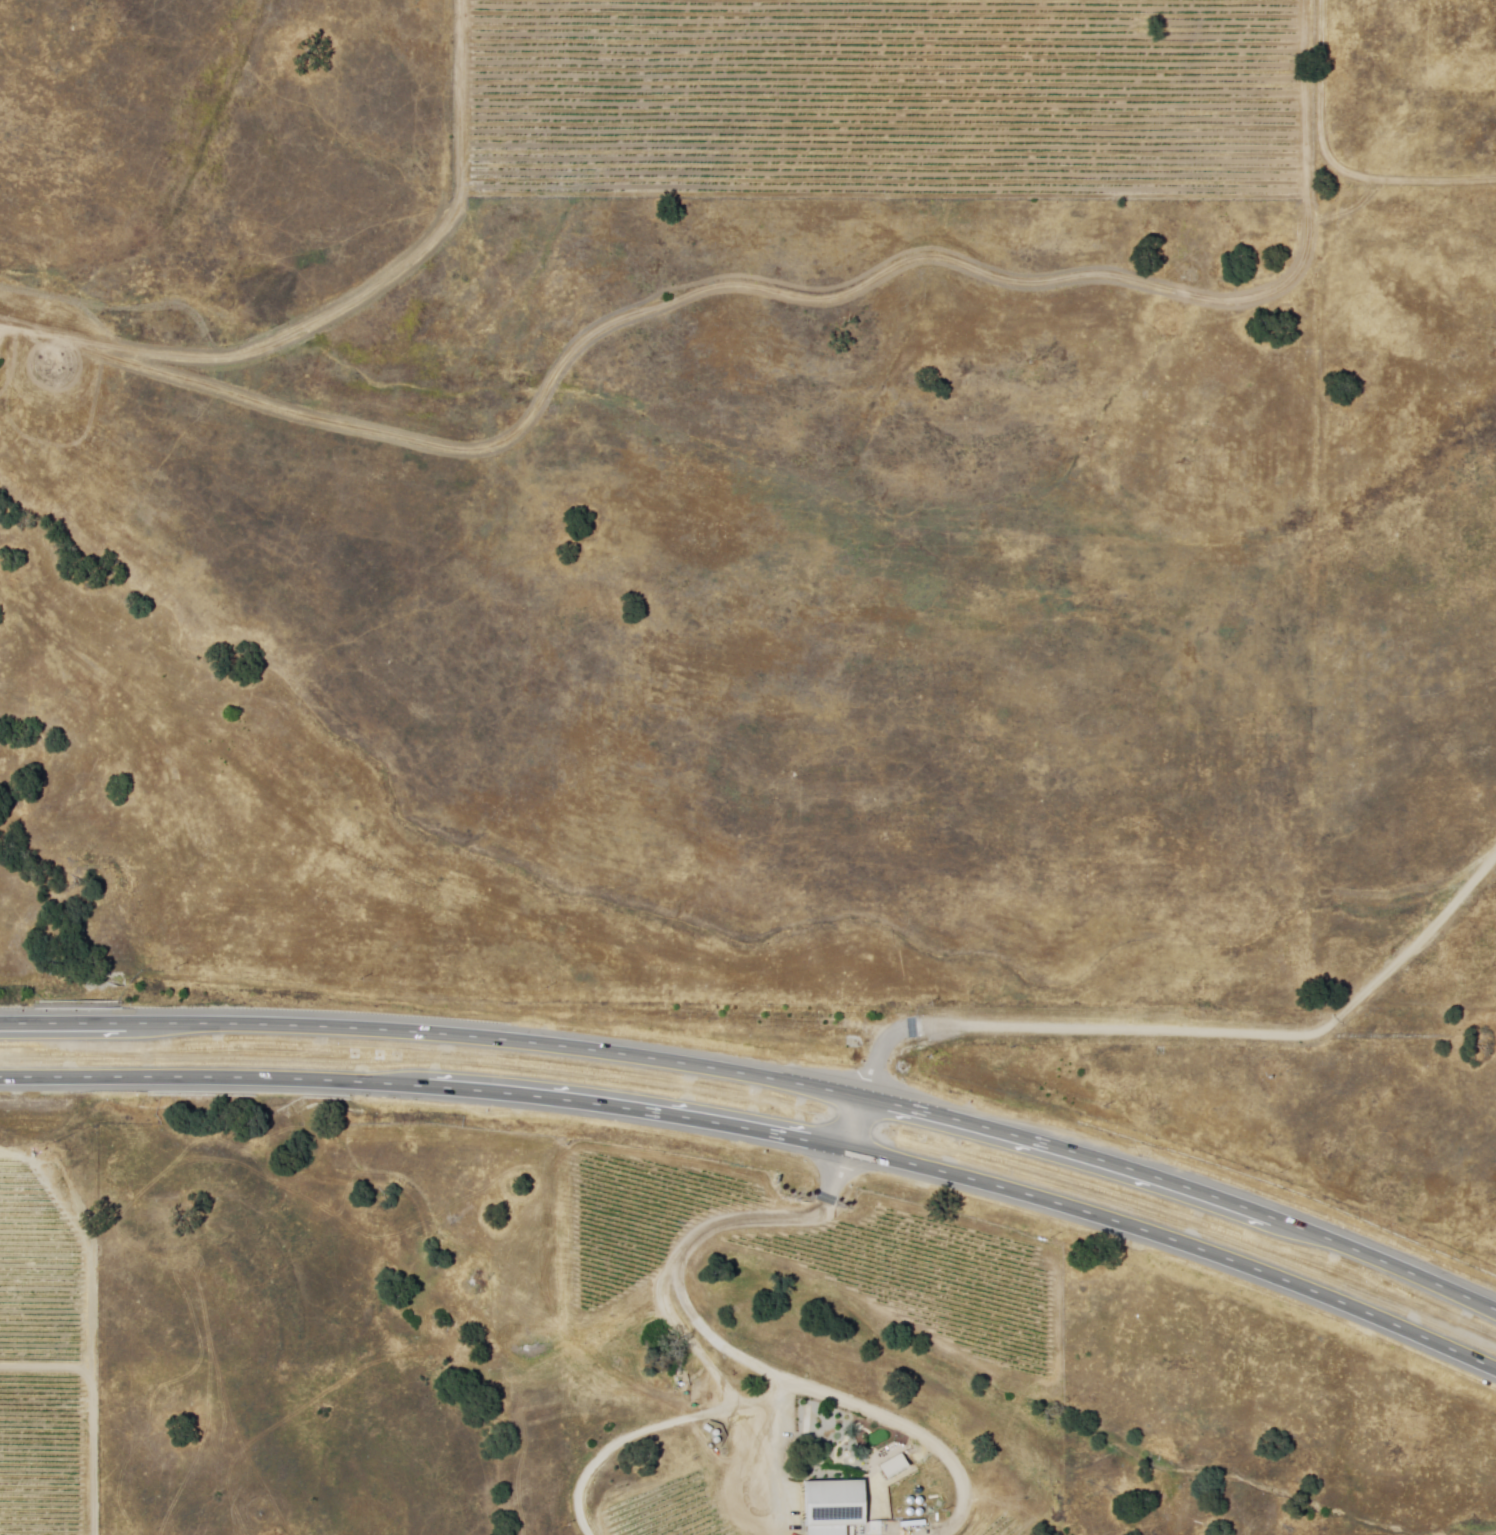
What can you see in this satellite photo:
road: (1335, 161)
road: (1196, 1032)
road: (435, 1033)
road: (859, 1121)
road: (765, 1126)
road: (1186, 1191)
road: (727, 1349)
road: (660, 1429)
building: (893, 1466)
building: (837, 1507)

